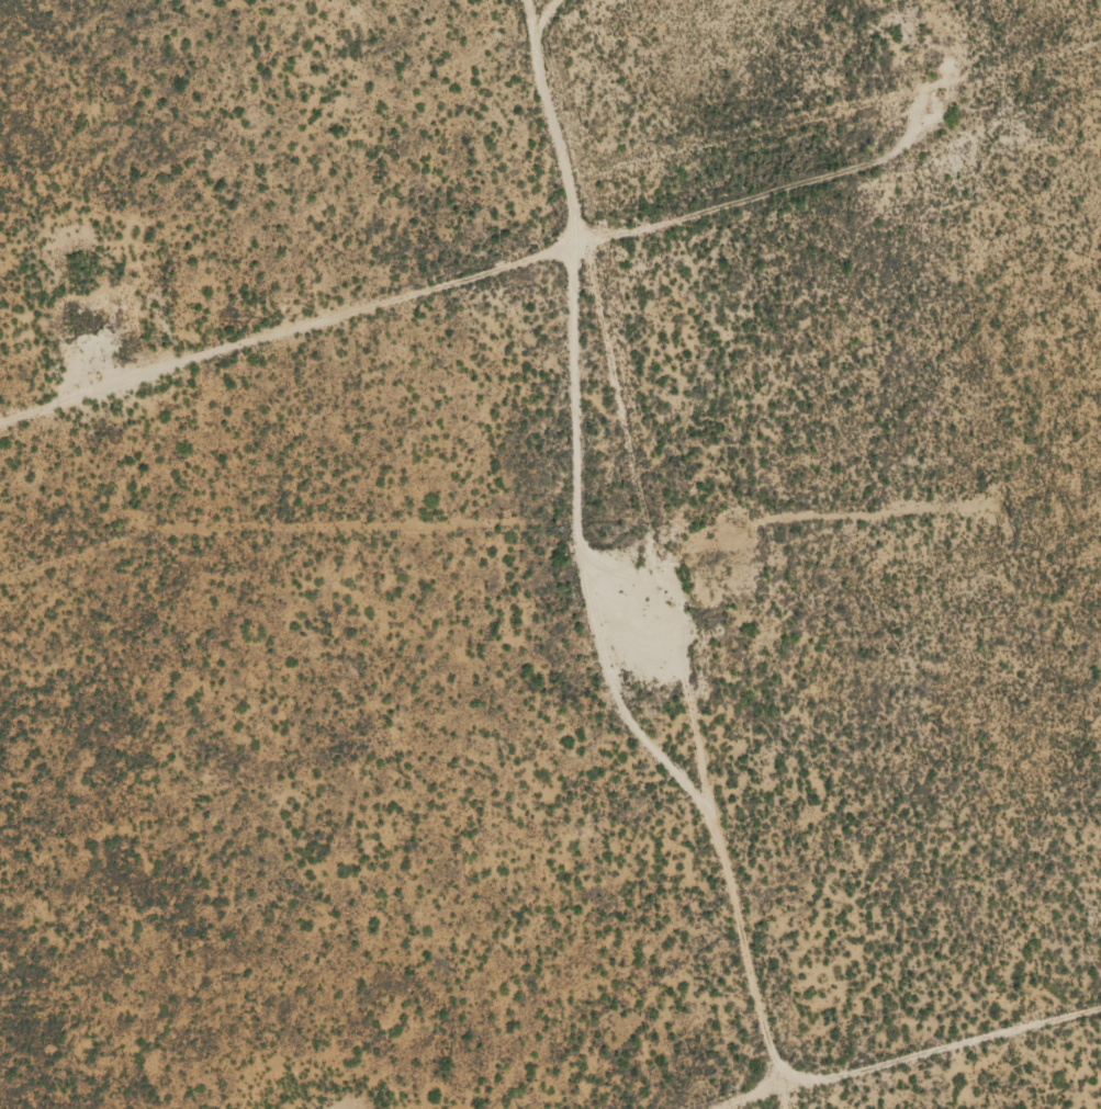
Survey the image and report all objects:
road: (478, 284)
road: (684, 554)
road: (885, 1055)

